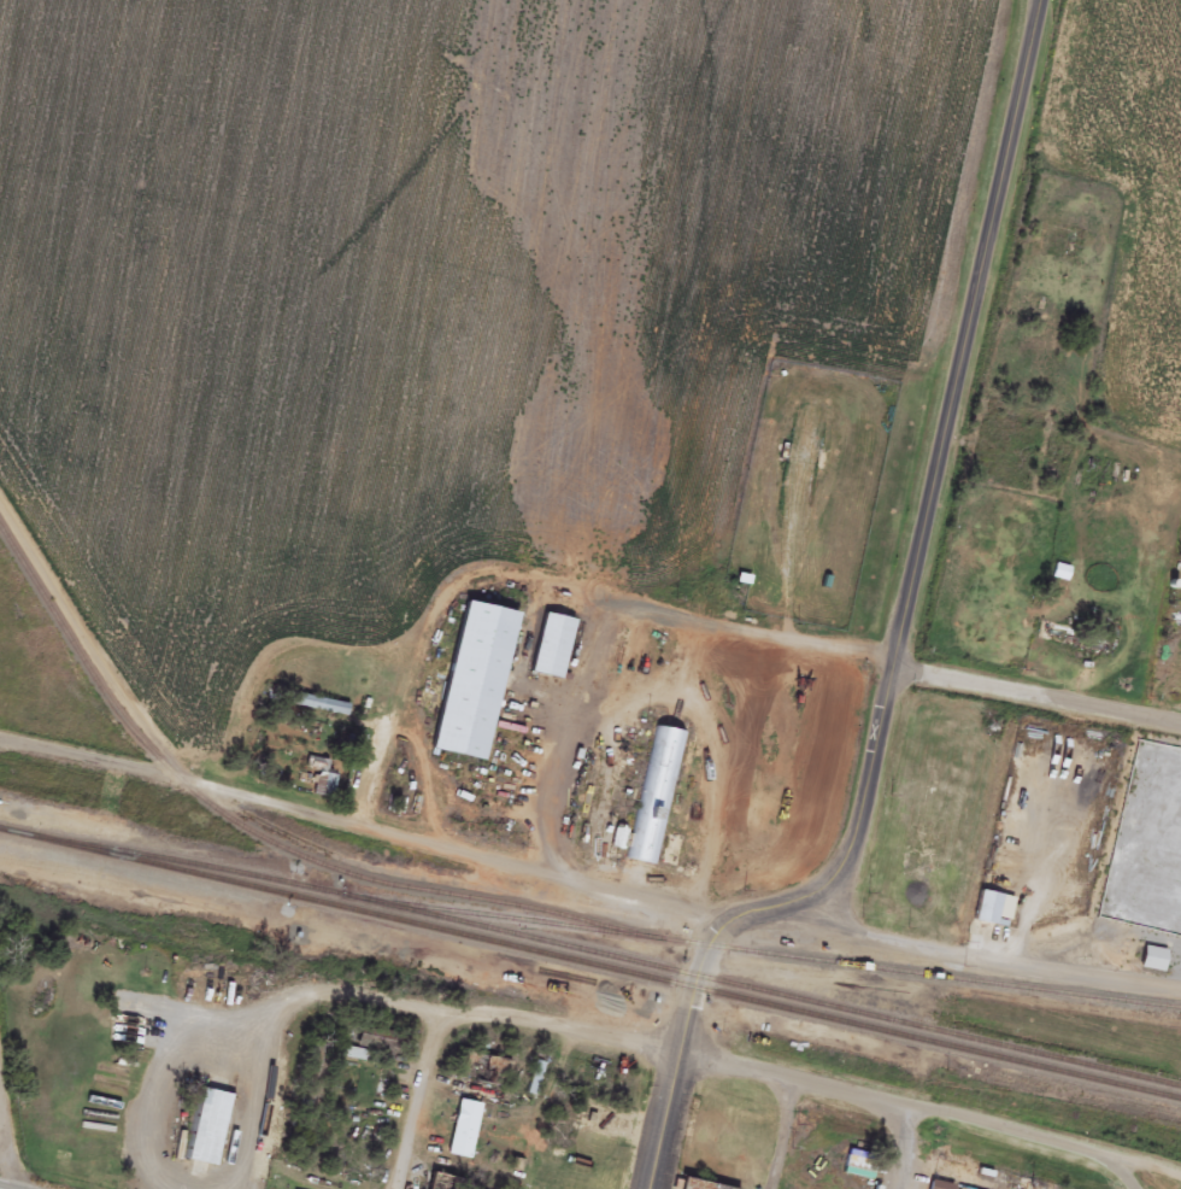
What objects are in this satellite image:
building: (1003, 471)
road: (924, 529)
building: (551, 649)
building: (474, 683)
road: (1038, 696)
building: (319, 707)
building: (652, 798)
road: (588, 874)
building: (1180, 878)
railway: (512, 908)
building: (993, 912)
railway: (507, 920)
railway: (592, 954)
building: (1152, 961)
railway: (610, 971)
building: (352, 1056)
road: (688, 1068)
road: (676, 1084)
road: (418, 1100)
road: (178, 1103)
building: (207, 1130)
road: (5, 1148)
road: (903, 1150)
building: (951, 1172)
road: (1157, 1181)
building: (694, 1185)
building: (940, 1187)

